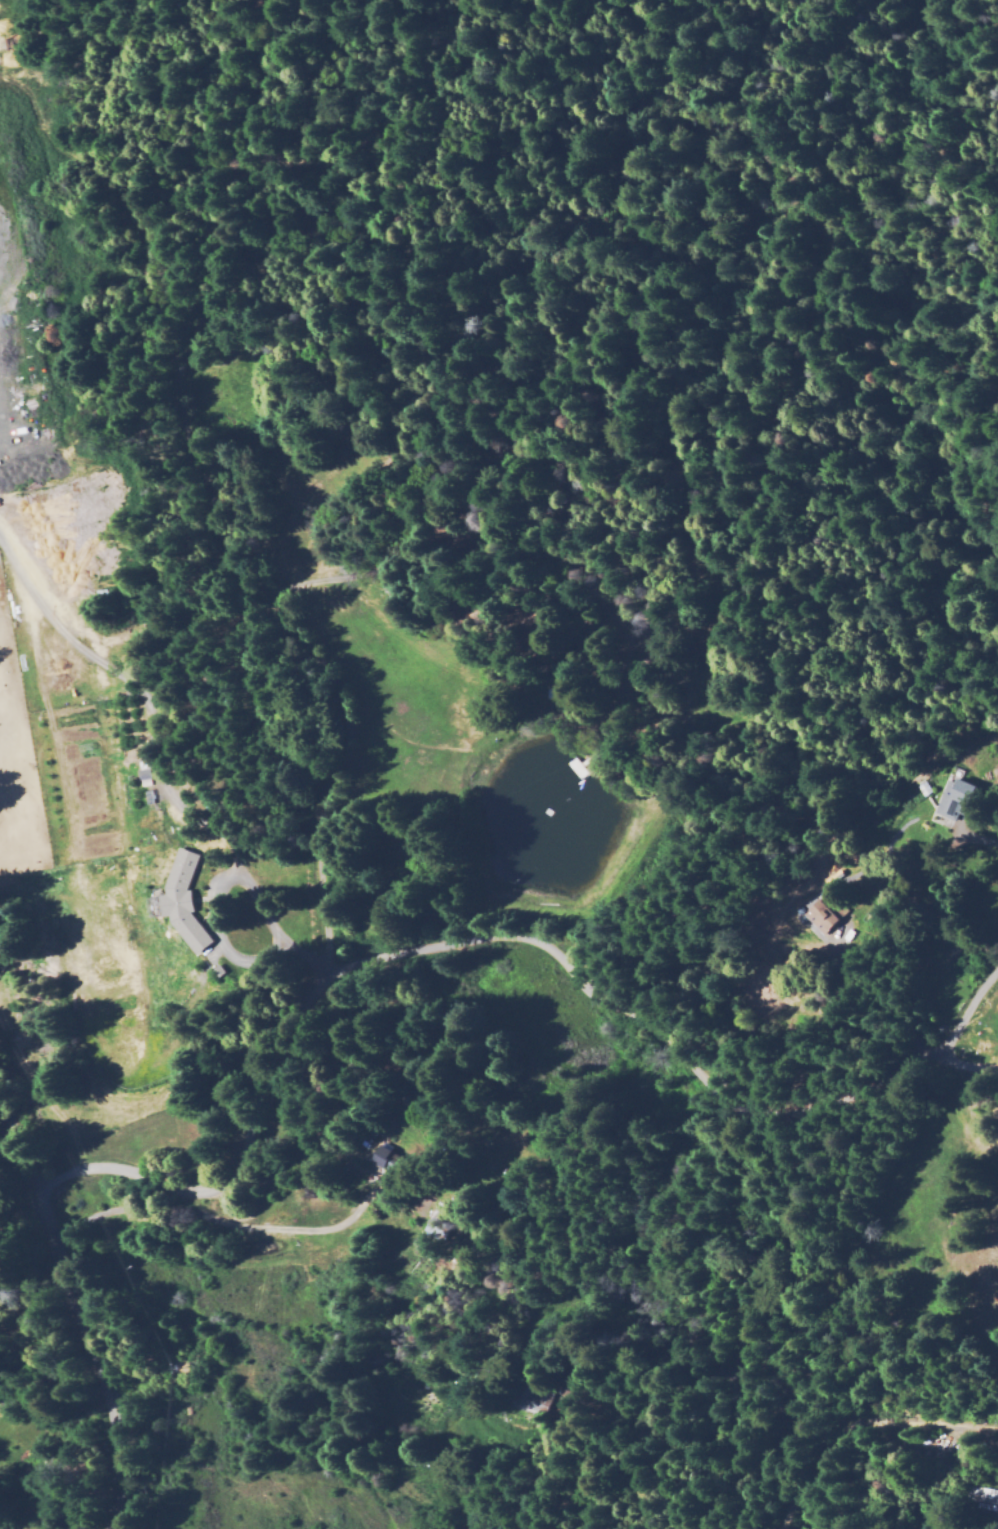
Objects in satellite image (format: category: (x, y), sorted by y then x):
road: (348, 676)
building: (144, 774)
building: (963, 792)
building: (835, 877)
building: (183, 902)
building: (830, 914)
building: (225, 968)
building: (380, 1157)
building: (394, 1159)
building: (435, 1229)
road: (79, 1315)
building: (577, 1389)
building: (541, 1400)
road: (865, 1429)
building: (984, 1496)

